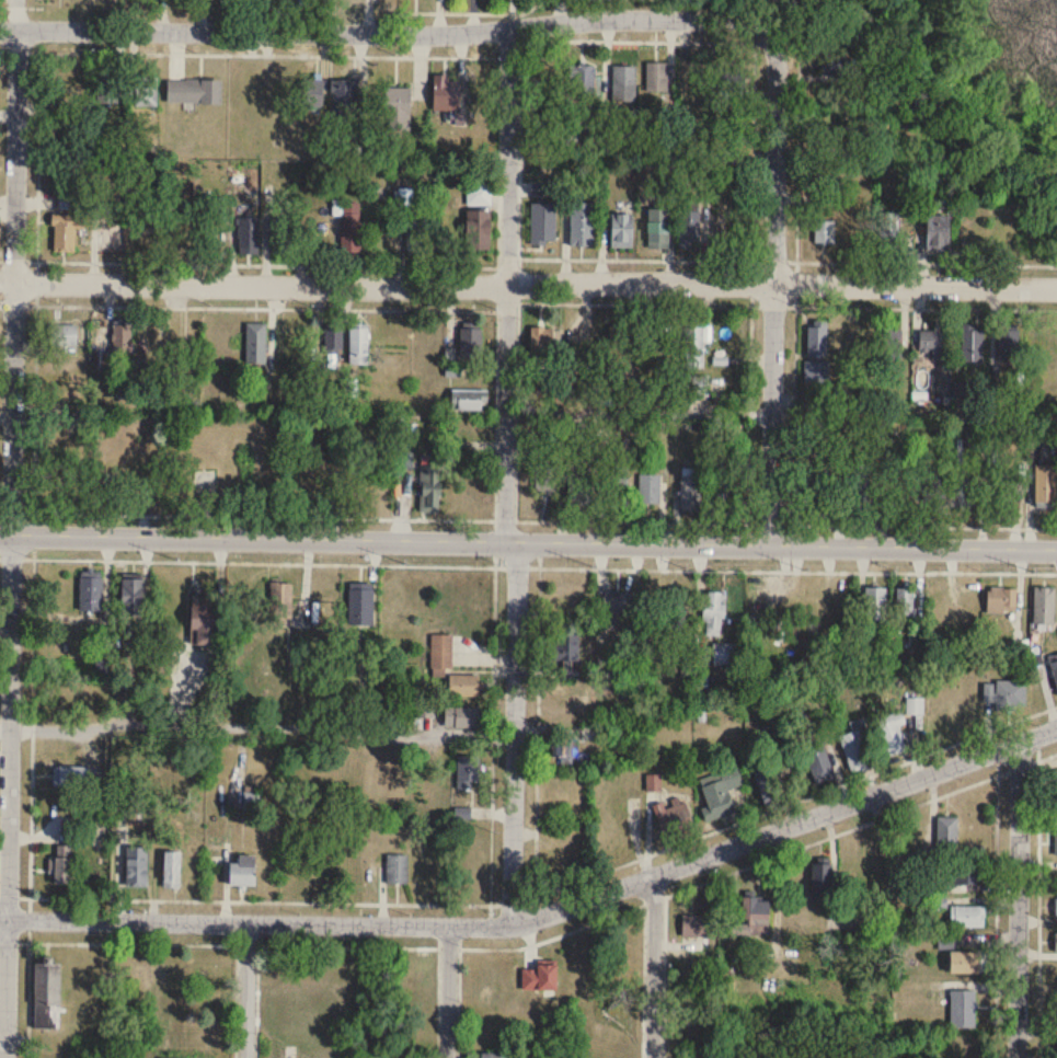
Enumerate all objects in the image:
road: (21, 5)
road: (383, 32)
road: (492, 56)
building: (834, 76)
building: (656, 77)
building: (732, 77)
building: (583, 80)
building: (624, 84)
building: (107, 89)
building: (146, 91)
building: (194, 91)
building: (312, 93)
building: (445, 93)
building: (344, 99)
building: (395, 105)
building: (479, 194)
building: (543, 222)
building: (582, 222)
building: (349, 227)
building: (658, 228)
building: (478, 229)
building: (689, 229)
building: (621, 230)
building: (888, 230)
building: (66, 231)
building: (825, 231)
building: (938, 233)
building: (248, 235)
building: (280, 235)
building: (416, 235)
road: (927, 262)
road: (795, 281)
road: (528, 284)
road: (773, 288)
road: (907, 307)
building: (61, 335)
building: (816, 338)
building: (932, 340)
building: (122, 341)
building: (541, 341)
building: (334, 343)
building: (470, 343)
building: (255, 344)
building: (889, 344)
building: (973, 344)
building: (1008, 345)
building: (358, 346)
building: (619, 346)
building: (694, 347)
building: (817, 371)
building: (698, 386)
building: (468, 400)
building: (58, 471)
road: (508, 476)
building: (545, 478)
building: (616, 484)
building: (933, 484)
building: (1045, 485)
building: (961, 486)
building: (429, 487)
building: (690, 487)
building: (650, 488)
building: (579, 491)
building: (816, 491)
road: (528, 519)
road: (11, 528)
road: (528, 542)
road: (528, 565)
building: (91, 593)
building: (131, 596)
building: (1001, 599)
building: (279, 600)
building: (905, 600)
building: (617, 601)
building: (874, 602)
building: (1044, 605)
building: (359, 606)
building: (676, 611)
building: (714, 612)
building: (202, 620)
building: (566, 646)
building: (441, 649)
building: (726, 653)
building: (1054, 665)
building: (463, 685)
building: (1006, 693)
building: (565, 700)
road: (31, 704)
building: (915, 705)
building: (460, 716)
road: (257, 725)
building: (891, 732)
building: (561, 749)
building: (854, 749)
building: (818, 762)
building: (468, 770)
building: (72, 782)
building: (654, 782)
building: (1055, 785)
building: (778, 786)
building: (720, 792)
building: (673, 817)
road: (860, 823)
building: (946, 832)
building: (1056, 843)
building: (60, 864)
building: (136, 866)
building: (171, 869)
building: (397, 869)
building: (242, 871)
building: (969, 873)
building: (820, 881)
road: (543, 890)
road: (1016, 899)
building: (1056, 907)
road: (1037, 908)
road: (543, 913)
building: (966, 916)
road: (995, 916)
building: (732, 921)
building: (1056, 941)
road: (336, 944)
building: (965, 962)
road: (653, 967)
building: (548, 978)
building: (175, 979)
road: (246, 989)
road: (448, 990)
building: (46, 994)
building: (963, 1008)
building: (166, 1038)
building: (485, 1055)

